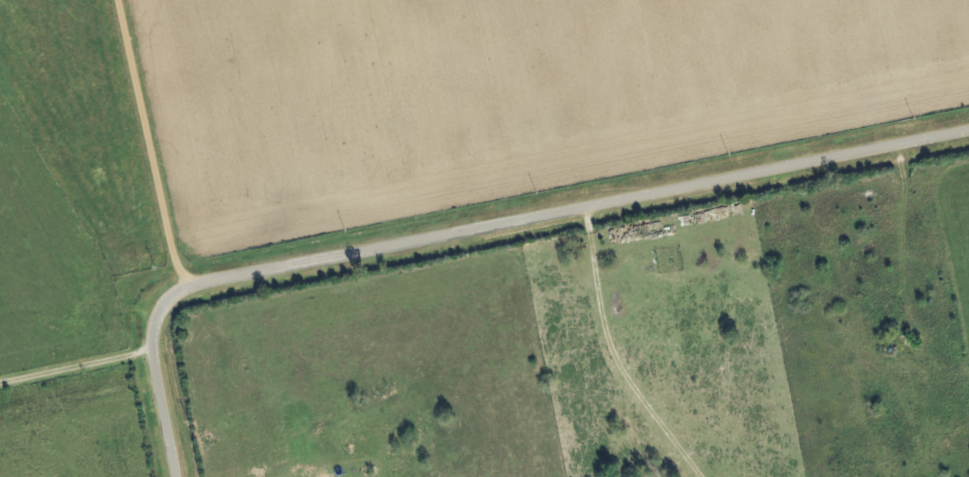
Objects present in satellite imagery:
road: (146, 147)
road: (479, 231)
road: (74, 373)

